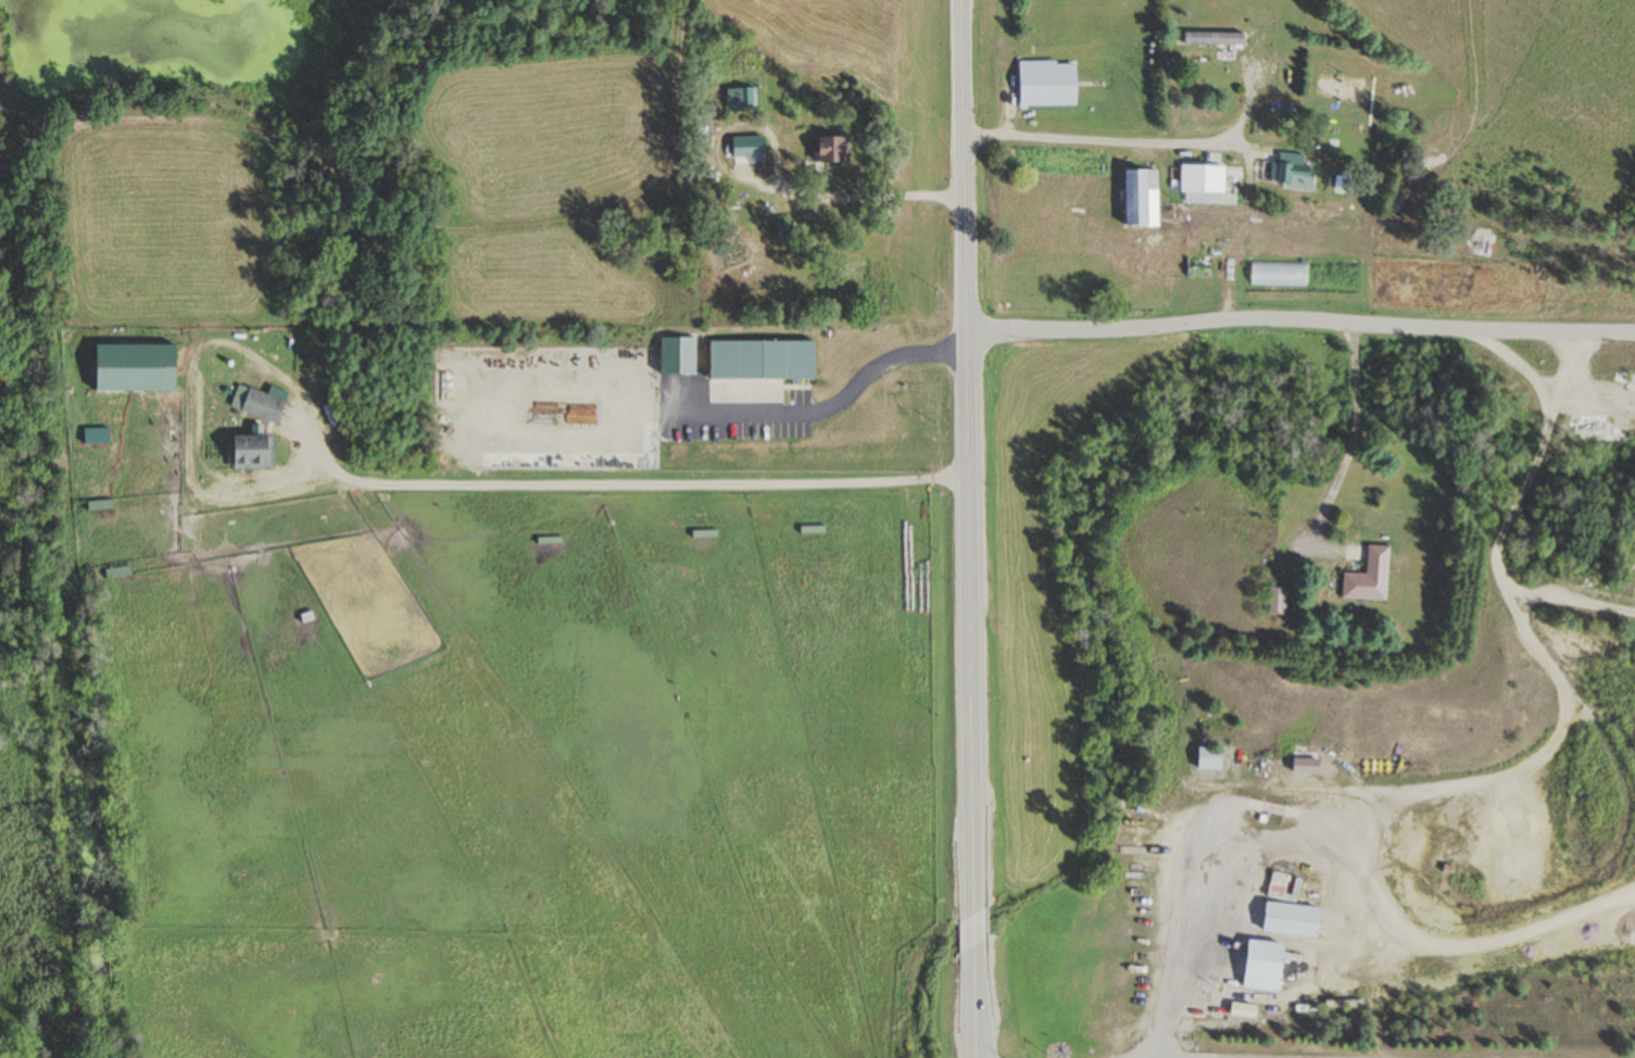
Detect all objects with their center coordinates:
building: (1213, 45)
building: (1045, 84)
building: (739, 98)
road: (1098, 142)
building: (753, 147)
building: (829, 150)
building: (1288, 172)
building: (1199, 179)
crop: (563, 190)
building: (1135, 196)
crop: (172, 230)
building: (1476, 248)
road: (1298, 318)
building: (675, 355)
building: (759, 361)
building: (254, 405)
building: (93, 437)
building: (249, 454)
road: (966, 529)
building: (702, 533)
building: (548, 541)
building: (117, 572)
building: (1367, 578)
building: (1274, 603)
quarry: (1304, 744)
building: (1207, 758)
building: (1304, 766)
crop: (20, 820)
building: (1291, 920)
building: (1261, 967)
building: (1242, 1010)

